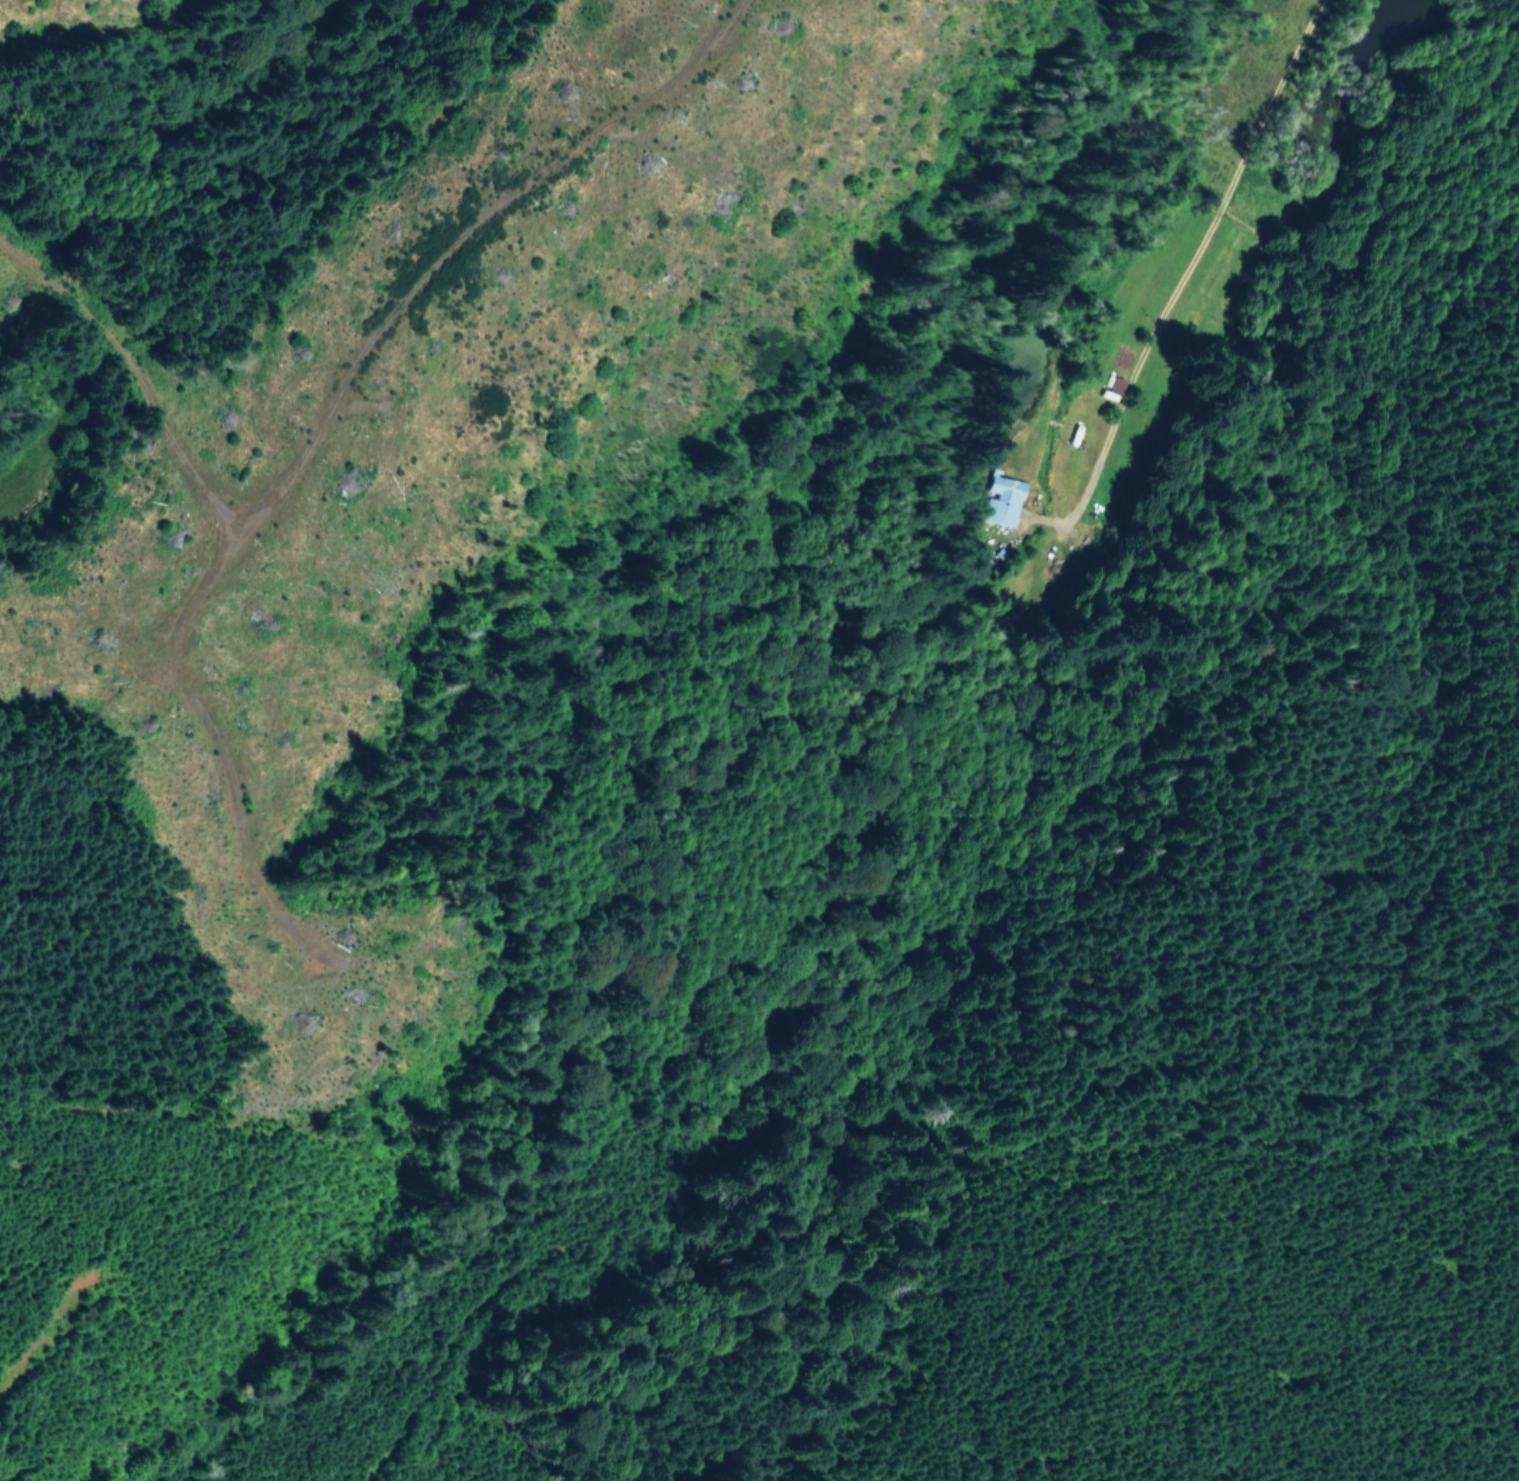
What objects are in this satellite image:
road: (1174, 261)

